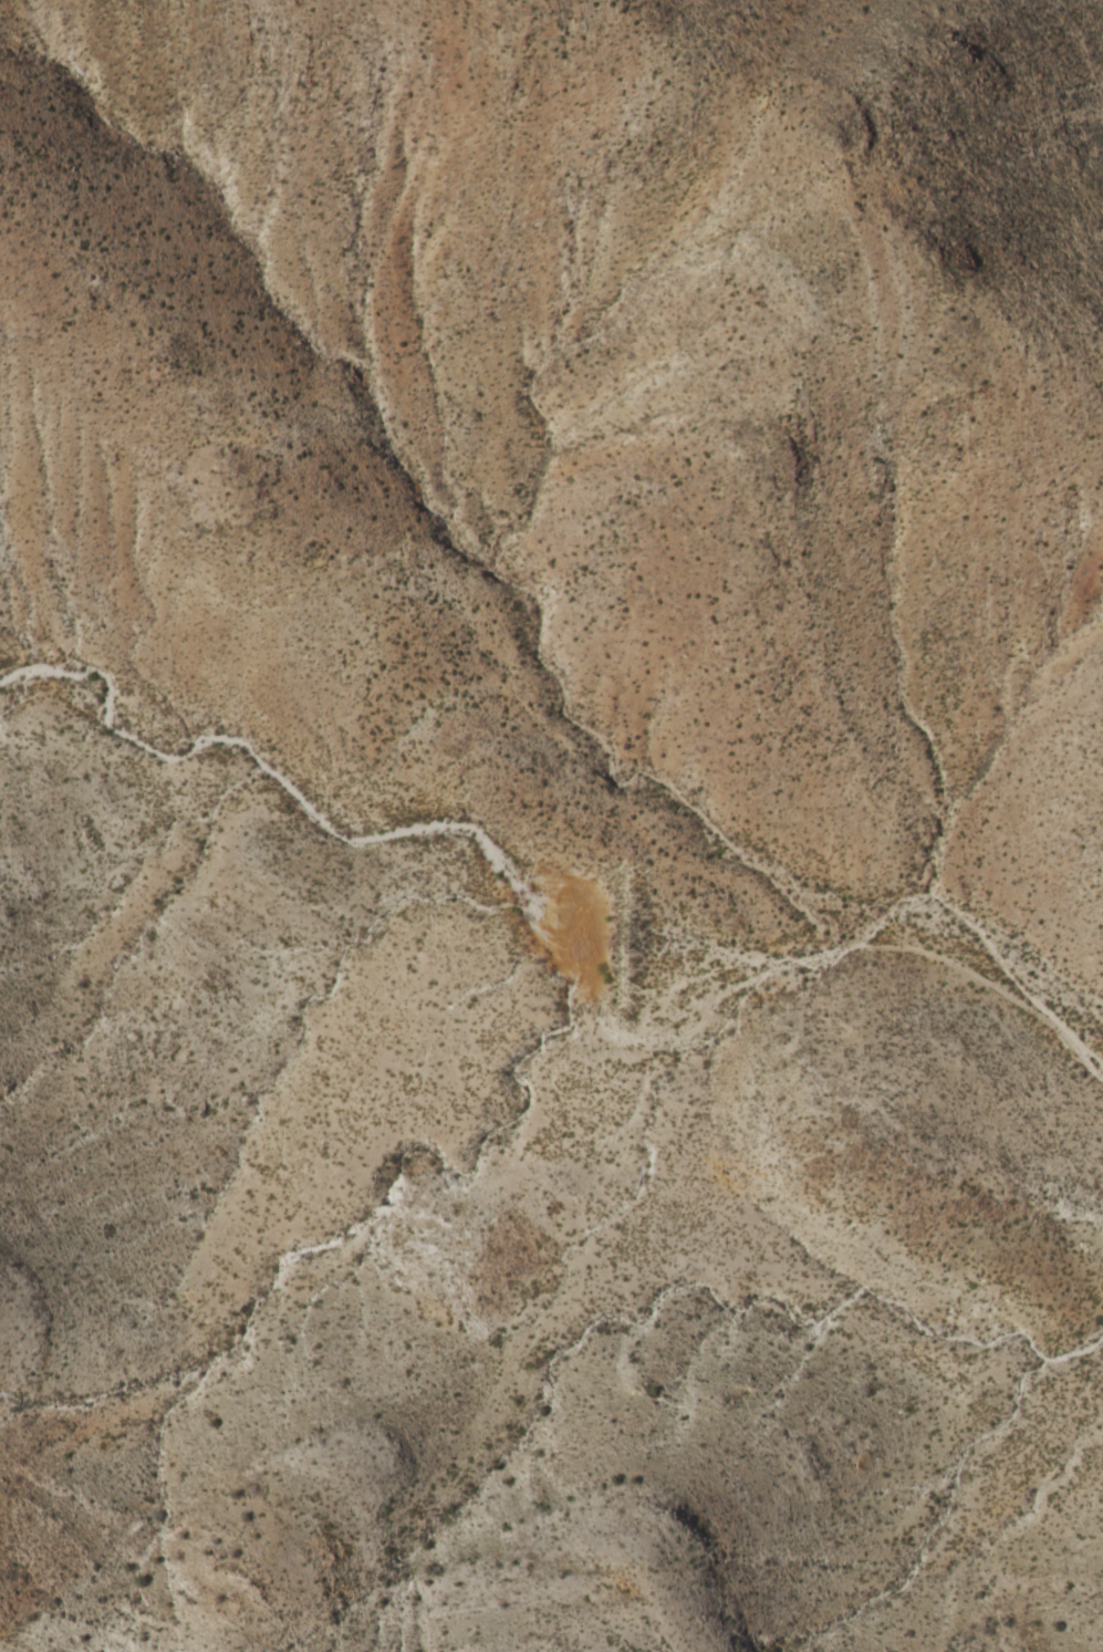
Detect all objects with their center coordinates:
road: (1002, 993)
road: (1089, 1215)

